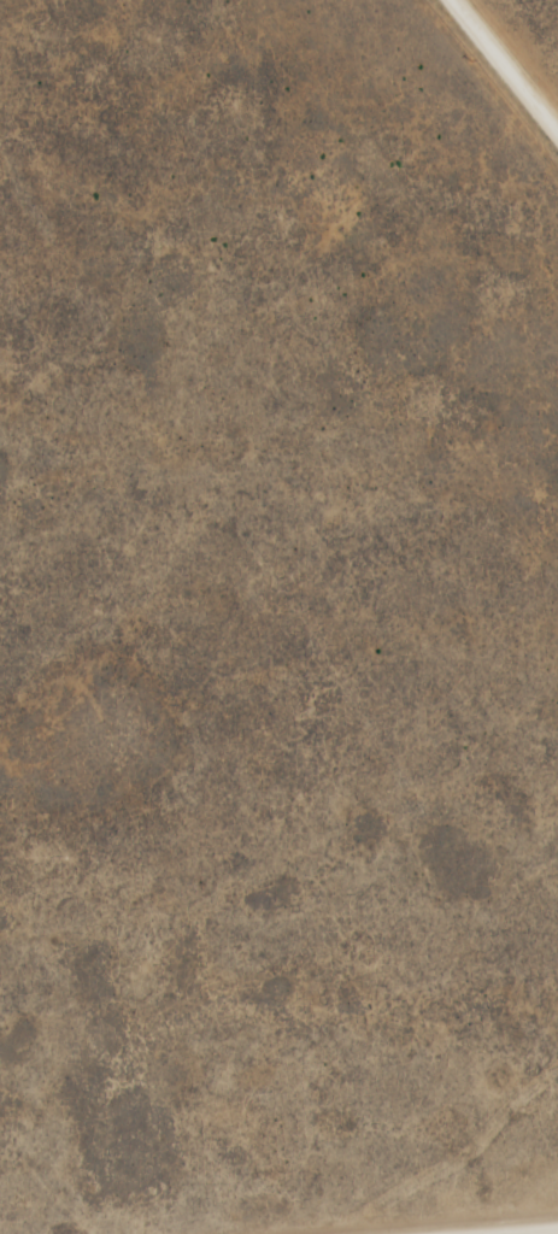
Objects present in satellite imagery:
road: (501, 69)

